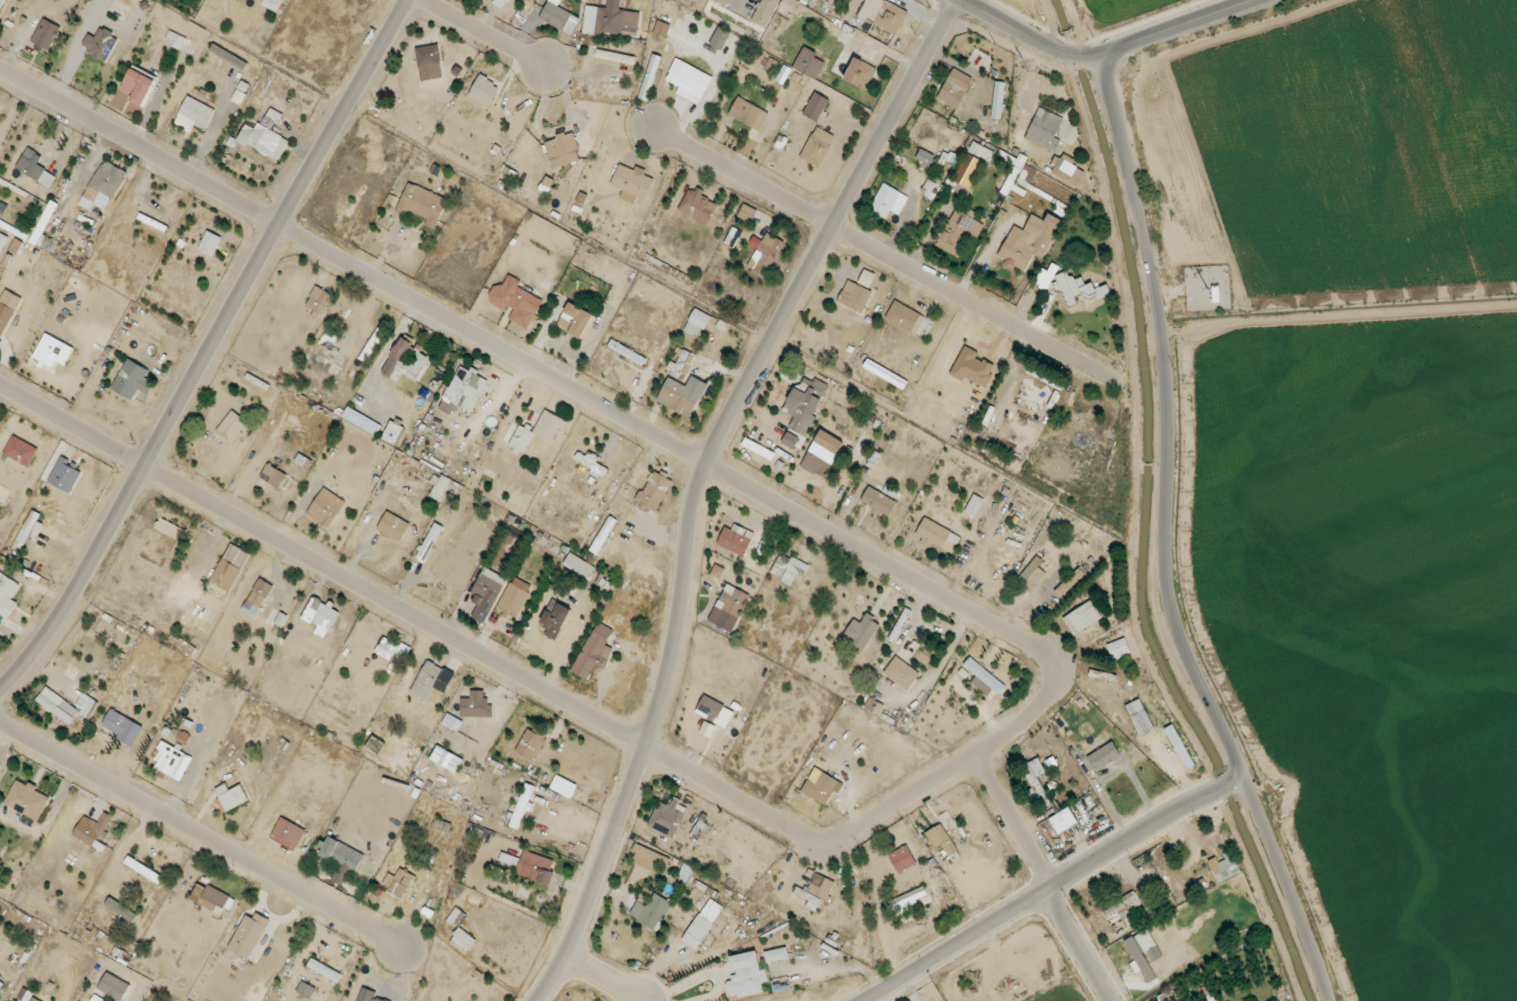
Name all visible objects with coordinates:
building: (810, 0)
building: (724, 2)
building: (272, 4)
building: (789, 5)
building: (766, 12)
building: (883, 15)
building: (559, 18)
building: (610, 20)
road: (1177, 26)
building: (661, 28)
road: (1018, 31)
road: (484, 33)
building: (46, 34)
building: (720, 38)
building: (177, 40)
building: (100, 44)
building: (229, 56)
building: (615, 57)
road: (1096, 60)
road: (1083, 61)
building: (429, 62)
building: (809, 63)
building: (860, 73)
building: (650, 77)
building: (689, 81)
building: (138, 86)
building: (955, 88)
building: (484, 91)
building: (998, 100)
building: (816, 106)
building: (748, 113)
building: (195, 115)
building: (272, 118)
building: (1045, 129)
building: (264, 141)
building: (817, 146)
building: (563, 150)
building: (925, 157)
building: (971, 164)
building: (35, 168)
building: (1067, 169)
building: (1017, 173)
building: (632, 182)
building: (105, 183)
building: (928, 188)
building: (888, 201)
building: (422, 204)
building: (698, 206)
building: (747, 213)
building: (957, 233)
building: (2, 240)
building: (1029, 241)
building: (210, 243)
building: (16, 246)
road: (874, 247)
building: (764, 253)
building: (1047, 276)
building: (1077, 289)
building: (855, 296)
building: (318, 301)
building: (516, 301)
building: (7, 309)
building: (903, 316)
building: (575, 320)
building: (697, 322)
building: (328, 340)
building: (372, 345)
building: (53, 350)
road: (209, 350)
building: (627, 352)
road: (520, 359)
building: (405, 361)
building: (680, 364)
building: (973, 368)
building: (885, 374)
road: (1103, 375)
building: (132, 380)
building: (364, 390)
building: (464, 391)
building: (682, 394)
building: (803, 409)
building: (362, 421)
building: (231, 427)
building: (536, 432)
building: (392, 433)
building: (21, 451)
building: (822, 454)
building: (593, 463)
building: (65, 475)
building: (273, 476)
road: (699, 482)
building: (654, 492)
building: (879, 501)
building: (974, 505)
building: (325, 507)
building: (393, 526)
building: (169, 529)
building: (28, 531)
building: (603, 535)
building: (936, 535)
building: (736, 539)
building: (429, 542)
road: (1167, 542)
building: (579, 566)
building: (230, 567)
building: (788, 568)
building: (718, 571)
building: (1032, 575)
building: (1070, 583)
building: (487, 594)
building: (7, 595)
building: (257, 598)
building: (513, 600)
building: (733, 601)
building: (320, 616)
building: (1082, 617)
building: (555, 618)
building: (861, 631)
building: (392, 649)
building: (1119, 649)
building: (594, 651)
building: (902, 673)
building: (985, 679)
building: (432, 680)
road: (549, 694)
building: (58, 705)
building: (86, 705)
building: (476, 705)
building: (874, 706)
building: (714, 711)
building: (1140, 717)
building: (122, 726)
building: (530, 744)
building: (375, 745)
building: (1180, 748)
building: (447, 759)
building: (172, 761)
building: (1035, 780)
road: (1236, 786)
building: (820, 787)
road: (1222, 794)
building: (232, 796)
building: (27, 799)
building: (523, 805)
building: (668, 817)
building: (1063, 820)
road: (1014, 824)
building: (92, 829)
building: (289, 832)
road: (200, 836)
building: (941, 839)
building: (341, 858)
building: (650, 858)
building: (509, 859)
building: (902, 859)
building: (536, 867)
building: (1225, 867)
building: (143, 869)
building: (685, 872)
building: (398, 883)
building: (816, 890)
road: (1044, 897)
building: (215, 901)
building: (909, 902)
building: (1124, 907)
building: (121, 909)
building: (651, 911)
road: (1292, 913)
road: (1279, 920)
building: (703, 923)
building: (248, 935)
building: (463, 941)
road: (1080, 947)
building: (1144, 952)
building: (776, 955)
road: (1209, 962)
building: (324, 970)
building: (746, 976)
road: (605, 979)
building: (1, 984)
building: (114, 987)
building: (306, 990)
building: (368, 995)
building: (34, 999)
building: (1192, 1000)

